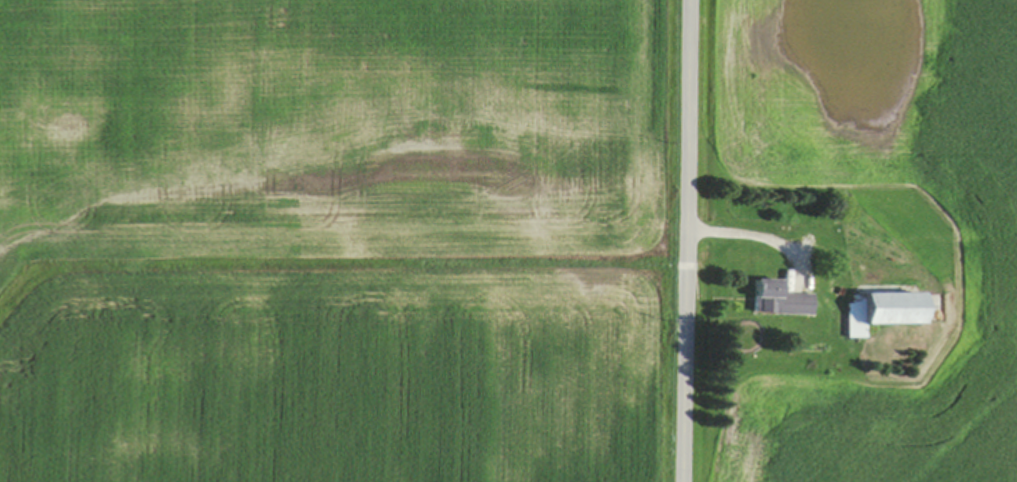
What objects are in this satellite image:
road: (757, 237)
road: (689, 240)
building: (781, 301)
building: (883, 312)

